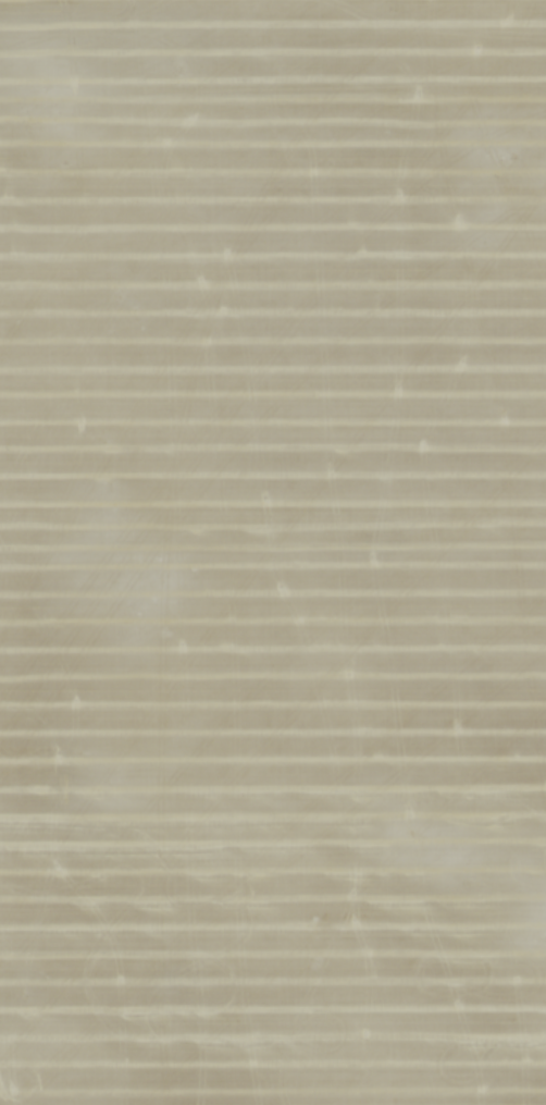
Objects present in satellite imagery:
crop: (273, 552)

